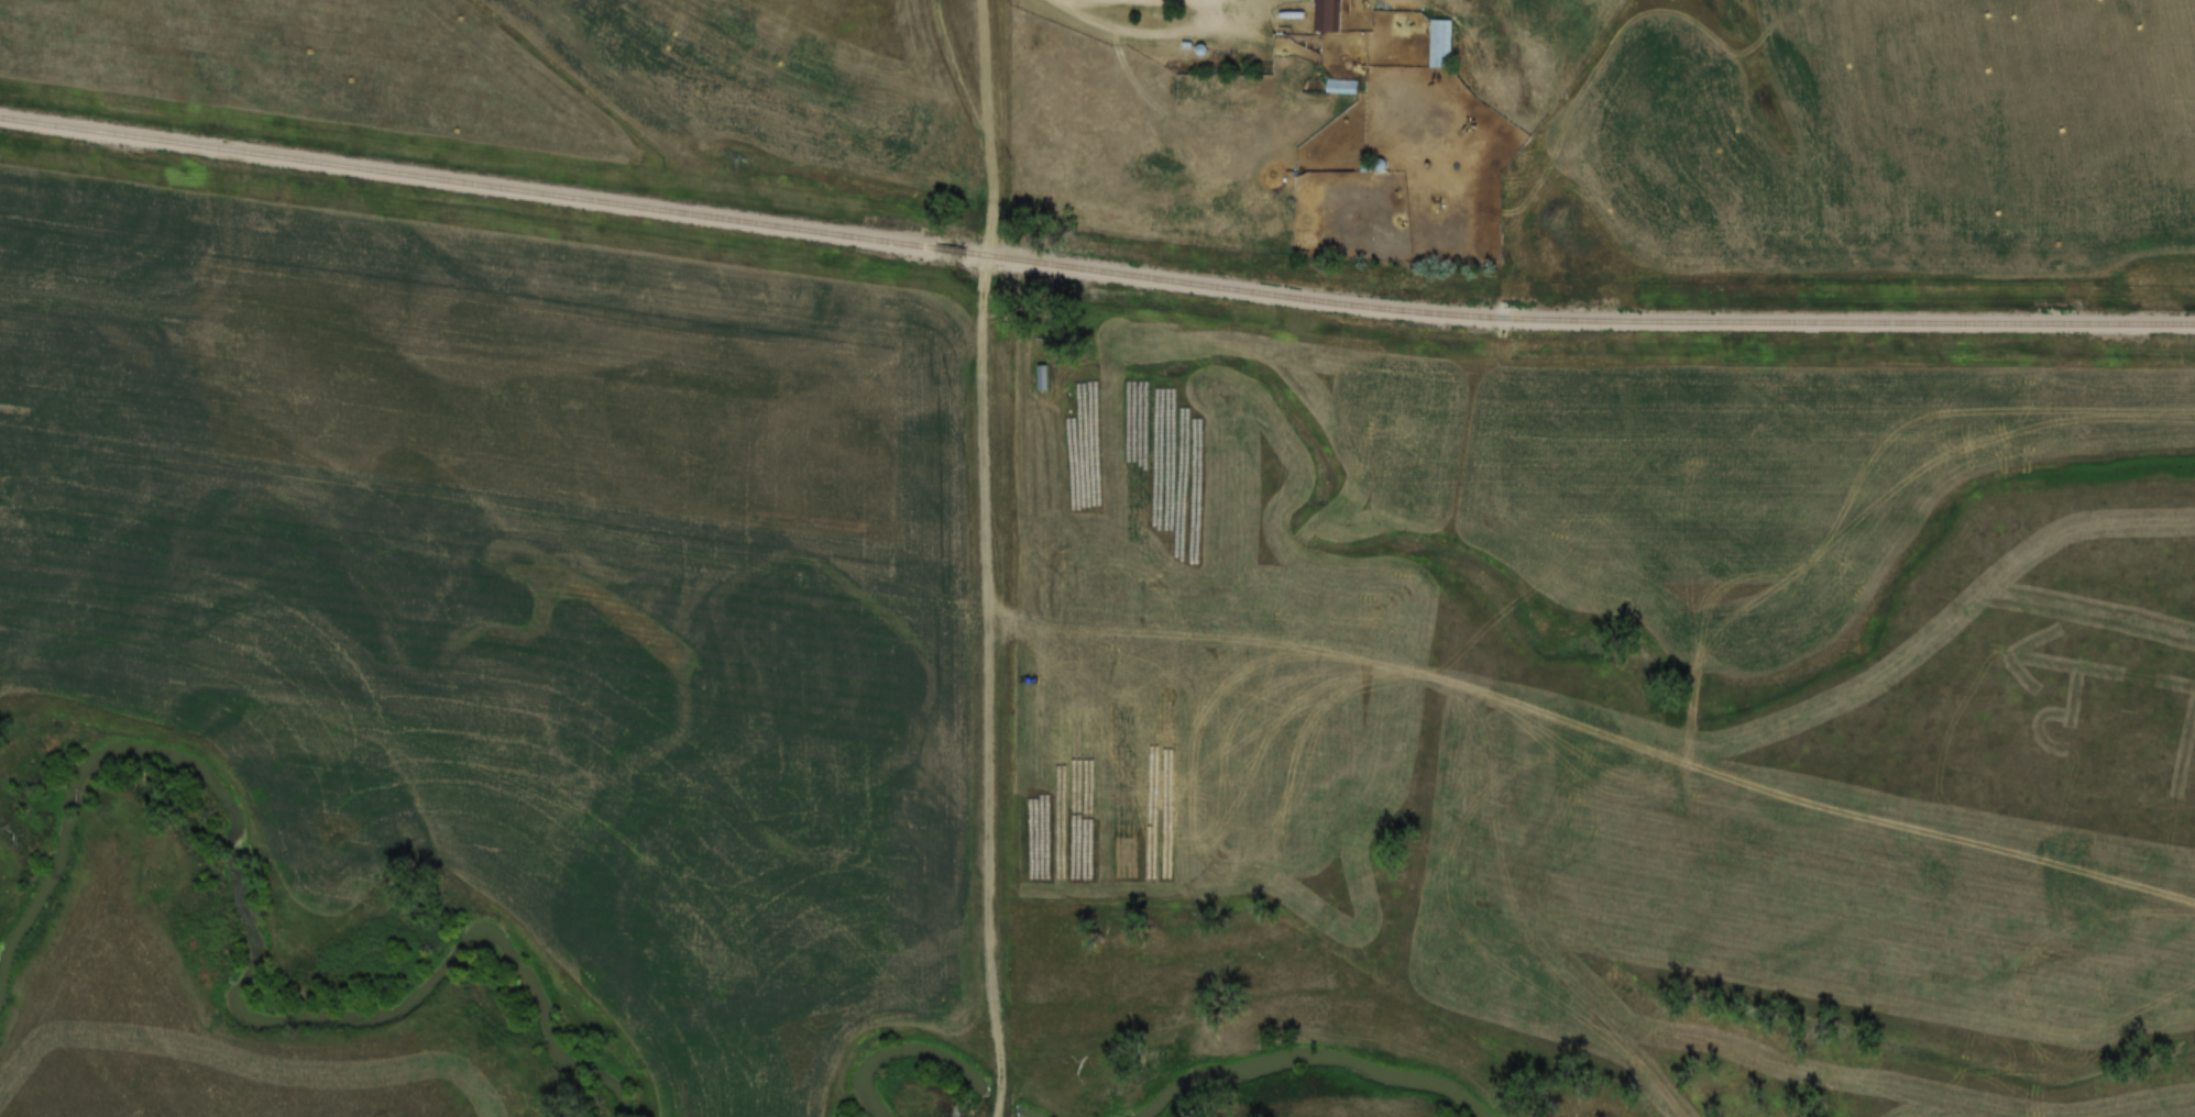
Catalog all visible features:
building: (1328, 14)
building: (1441, 42)
building: (1342, 85)
road: (985, 155)
railway: (465, 180)
railway: (948, 250)
railway: (1578, 319)
crop: (513, 589)
road: (977, 717)

